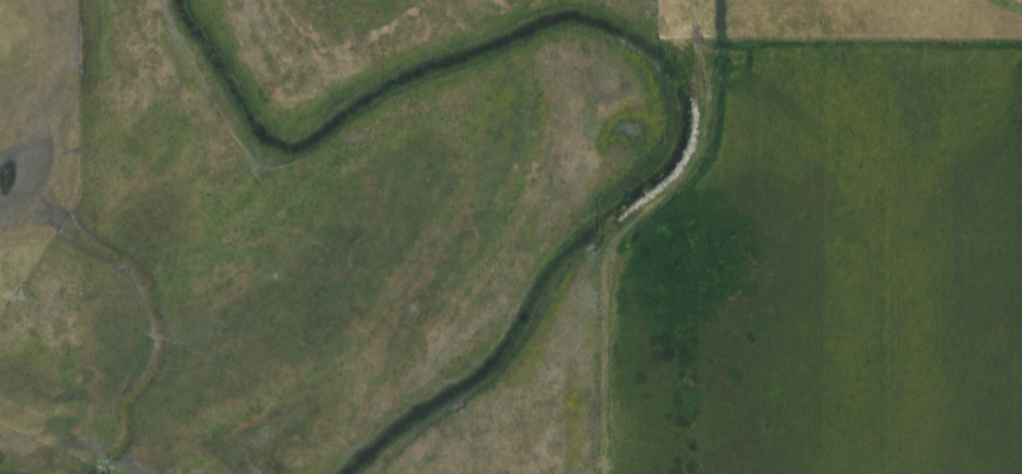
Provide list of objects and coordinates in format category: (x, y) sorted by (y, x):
crop: (39, 115)
crop: (316, 219)
crop: (17, 263)
crop: (828, 274)
crop: (521, 394)

